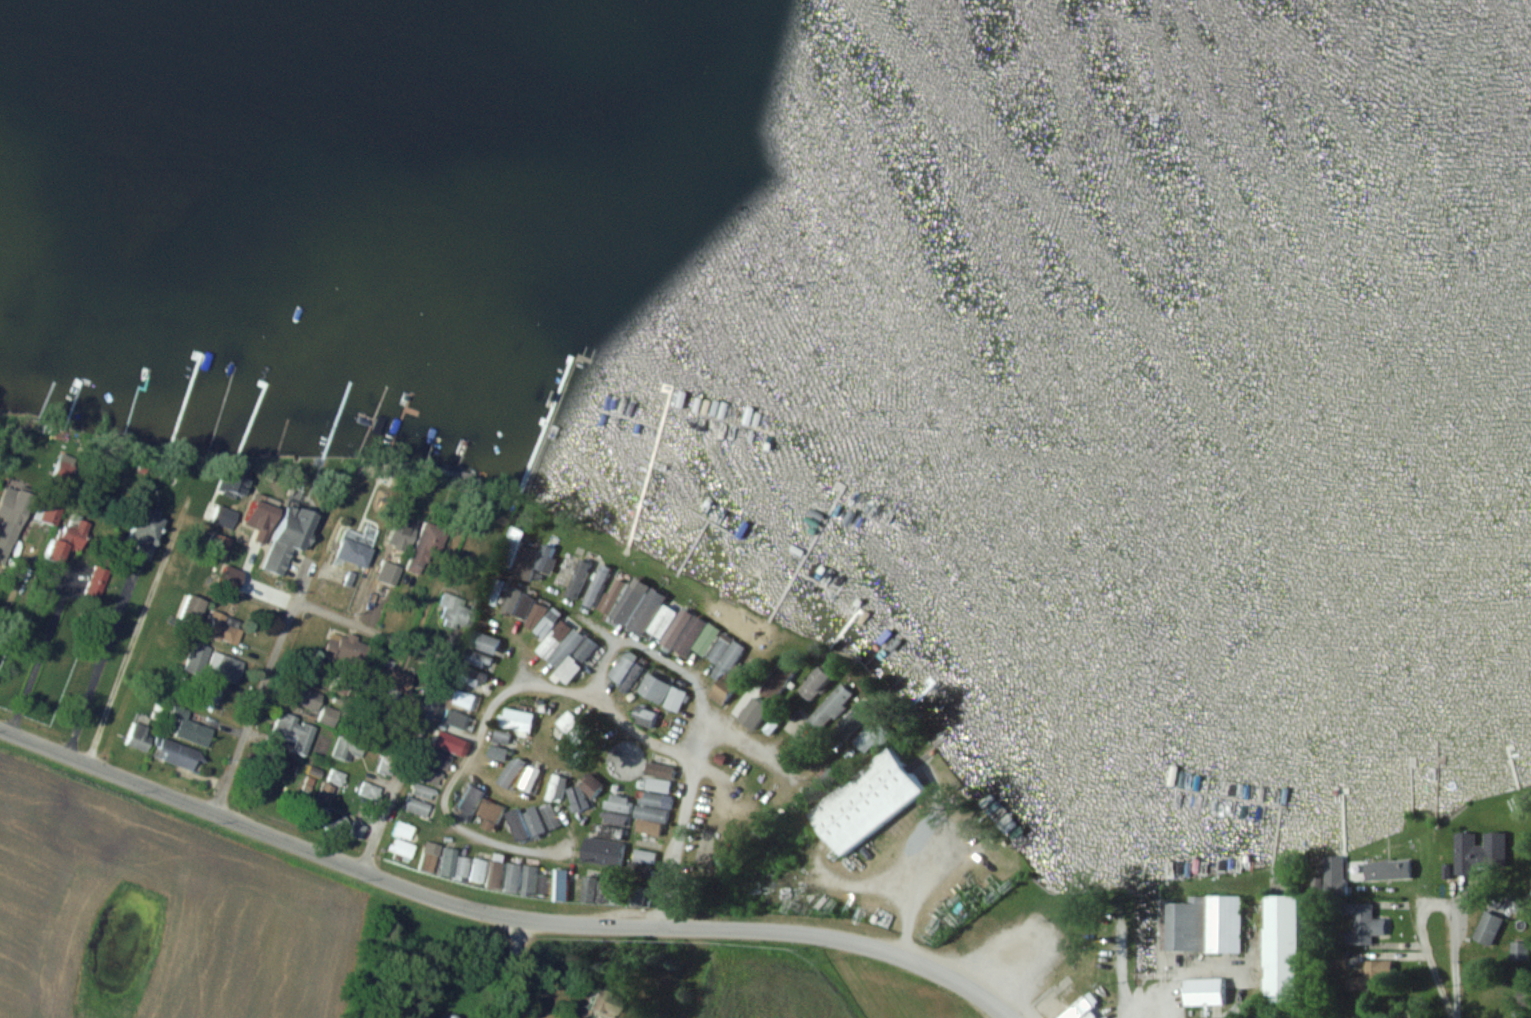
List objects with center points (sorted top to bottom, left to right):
building: (62, 470)
building: (241, 482)
building: (16, 510)
building: (47, 514)
building: (253, 522)
building: (402, 530)
building: (73, 531)
building: (144, 533)
road: (325, 536)
building: (287, 537)
building: (217, 541)
building: (423, 546)
building: (354, 547)
building: (3, 553)
building: (533, 561)
building: (228, 578)
building: (386, 578)
building: (577, 578)
building: (595, 587)
road: (273, 592)
building: (612, 595)
building: (516, 598)
building: (190, 610)
building: (455, 610)
building: (537, 610)
building: (664, 620)
building: (222, 627)
road: (457, 627)
road: (136, 631)
road: (371, 632)
building: (485, 642)
building: (560, 643)
building: (586, 649)
building: (350, 651)
road: (104, 653)
building: (478, 659)
road: (604, 665)
building: (224, 666)
building: (726, 667)
building: (569, 669)
building: (625, 671)
road: (689, 676)
building: (779, 678)
building: (388, 679)
building: (816, 683)
building: (655, 687)
building: (210, 694)
building: (306, 697)
building: (676, 698)
building: (462, 699)
road: (257, 706)
building: (830, 707)
building: (328, 715)
building: (644, 716)
road: (623, 718)
building: (458, 720)
building: (519, 720)
building: (568, 722)
building: (848, 722)
building: (190, 728)
building: (293, 732)
building: (138, 737)
road: (751, 740)
building: (446, 741)
building: (347, 748)
building: (175, 754)
building: (437, 758)
road: (403, 766)
building: (660, 769)
building: (428, 775)
building: (336, 777)
building: (531, 779)
building: (555, 789)
building: (370, 790)
building: (423, 791)
building: (471, 799)
building: (868, 801)
building: (618, 803)
building: (653, 805)
building: (417, 807)
building: (489, 814)
building: (550, 816)
building: (615, 819)
building: (534, 821)
building: (517, 825)
building: (356, 829)
building: (403, 830)
building: (401, 848)
building: (602, 851)
building: (1480, 852)
building: (427, 860)
building: (446, 862)
building: (462, 867)
building: (478, 870)
building: (1389, 871)
building: (495, 874)
building: (520, 879)
building: (543, 884)
building: (559, 889)
building: (589, 889)
road: (1425, 896)
road: (495, 915)
building: (1364, 924)
building: (1202, 925)
building: (1489, 928)
building: (1282, 950)
road: (517, 970)
building: (1372, 977)
road: (1122, 985)
building: (1205, 991)
road: (1148, 1000)
building: (600, 1005)
building: (1082, 1008)
road: (1458, 1014)

